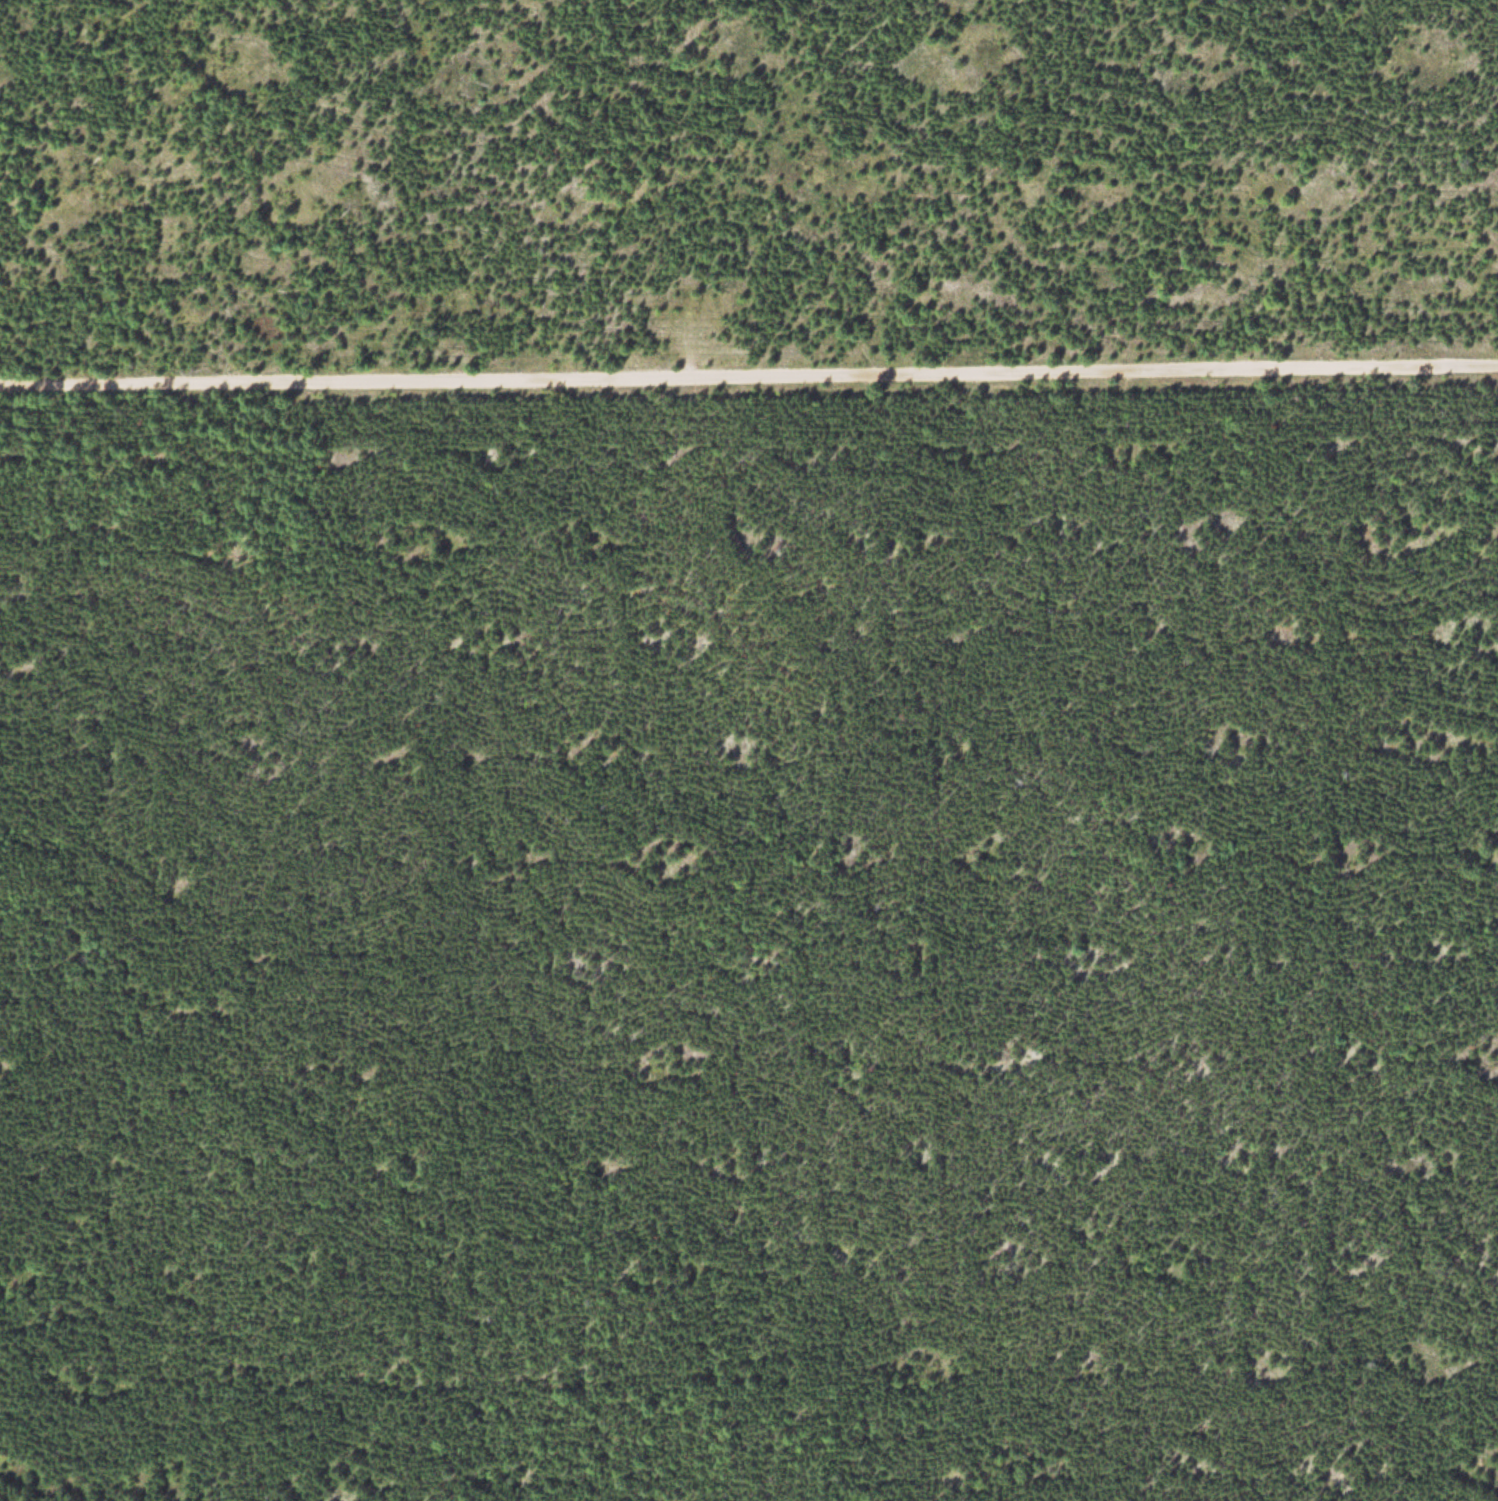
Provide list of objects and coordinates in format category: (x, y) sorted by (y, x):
road: (749, 373)

